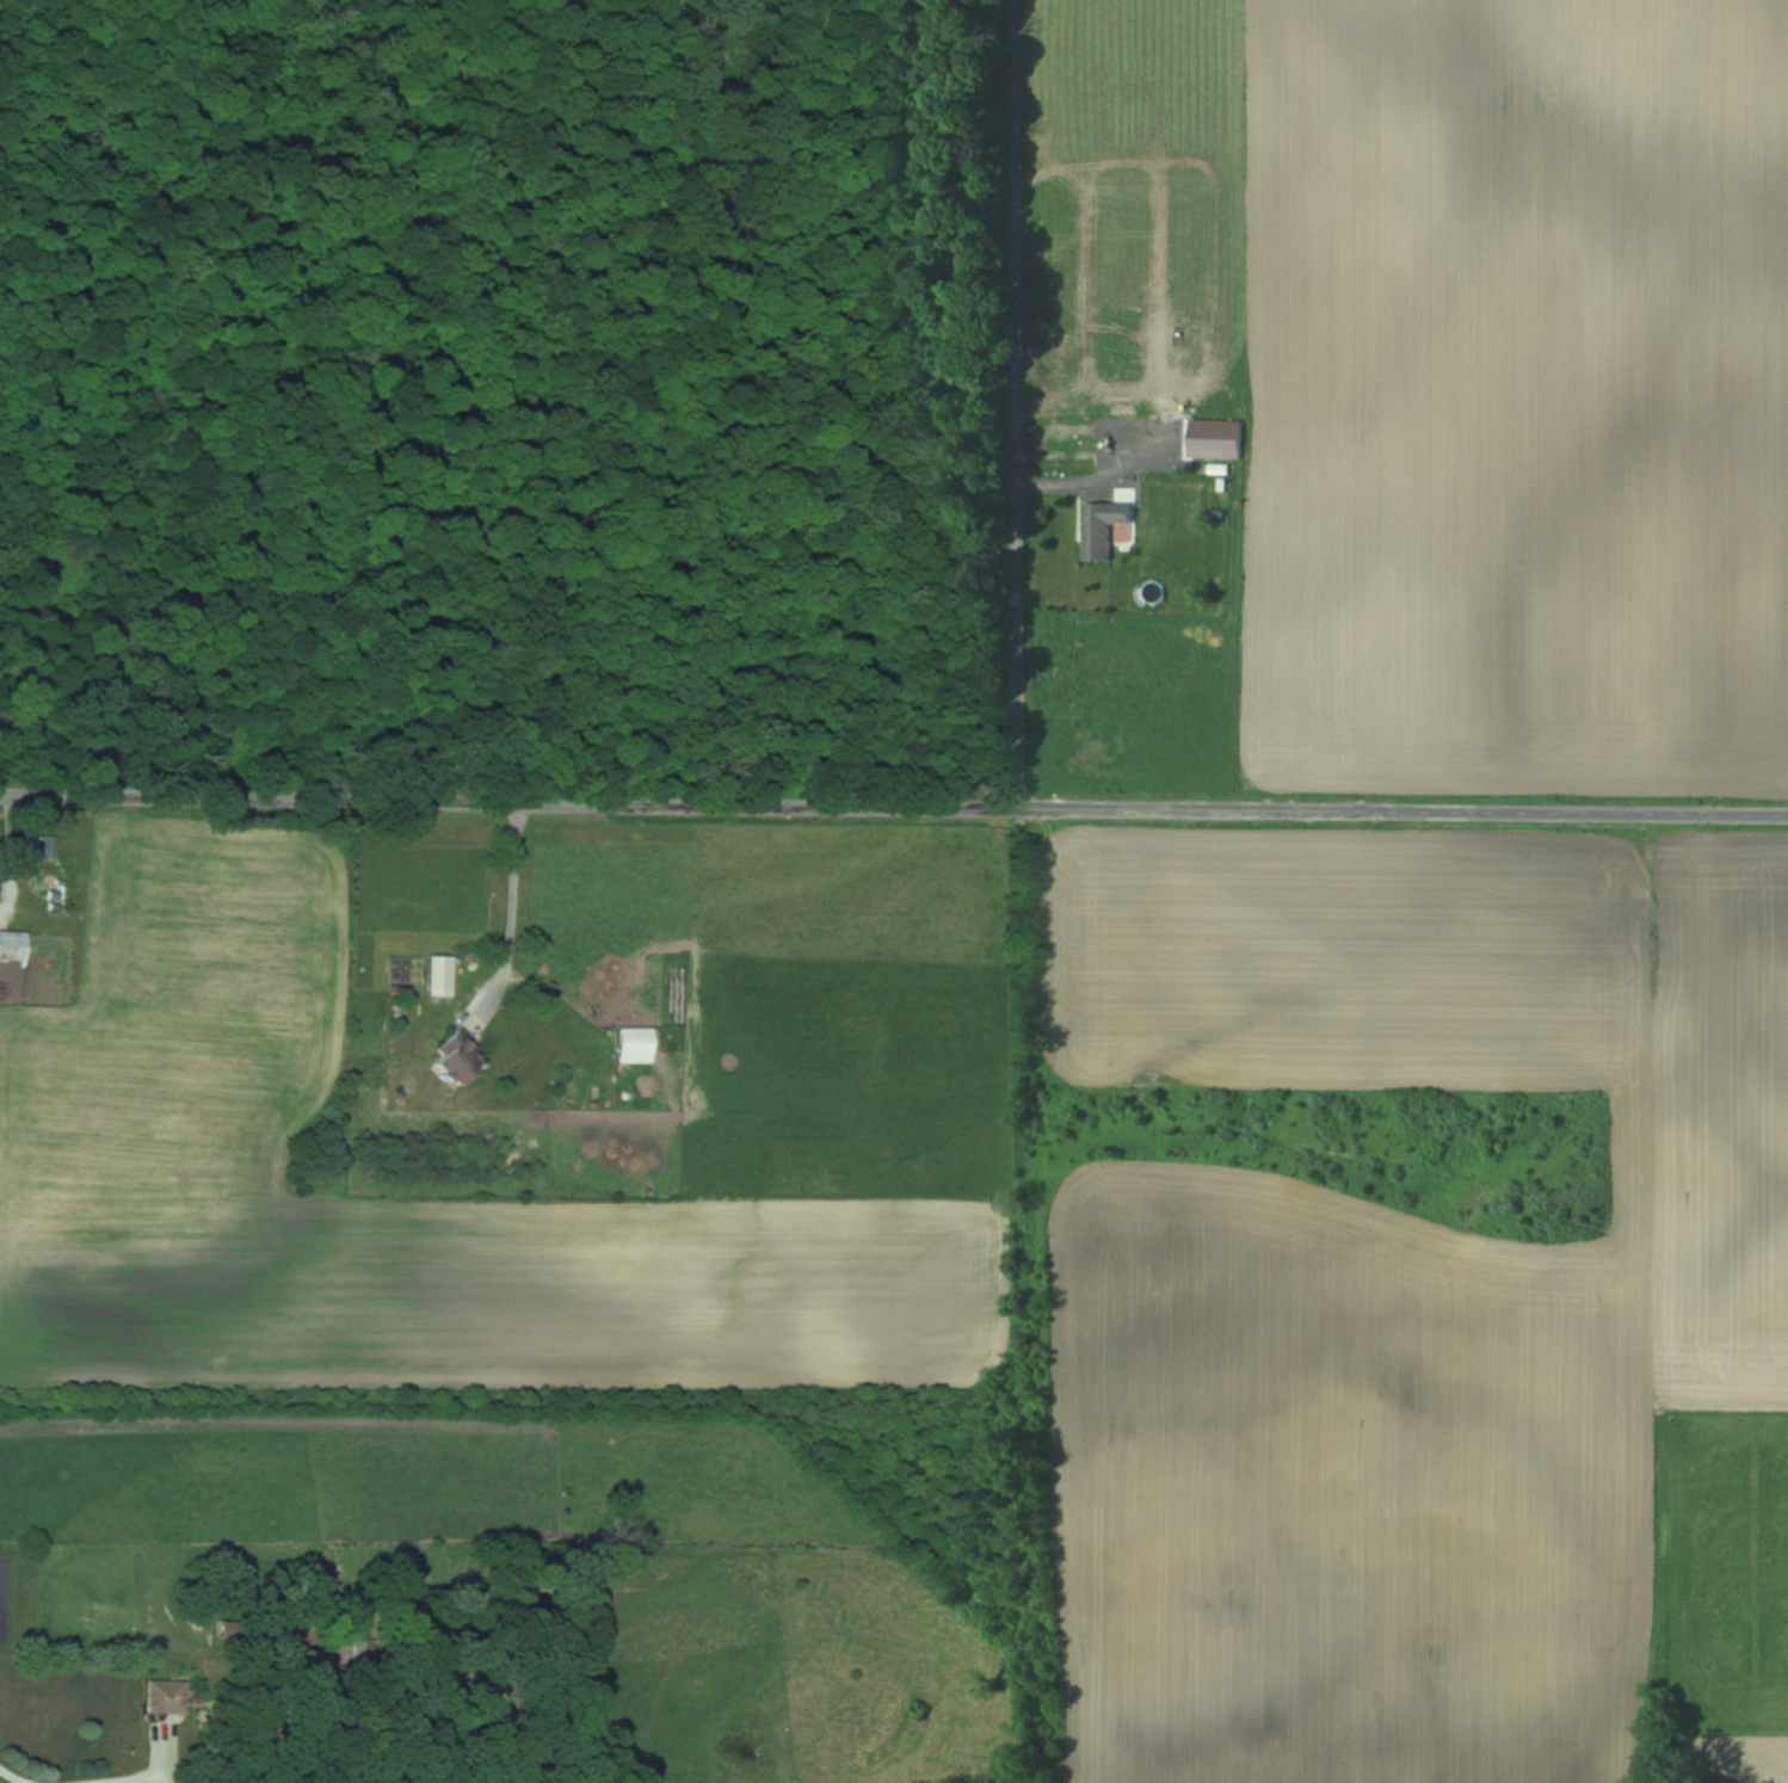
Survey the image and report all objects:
road: (1013, 156)
building: (1208, 438)
building: (1099, 528)
road: (1015, 561)
road: (893, 806)
building: (30, 846)
road: (516, 900)
building: (12, 946)
building: (438, 976)
building: (633, 1044)
building: (450, 1060)
building: (162, 1698)
road: (12, 1776)
road: (141, 1778)

